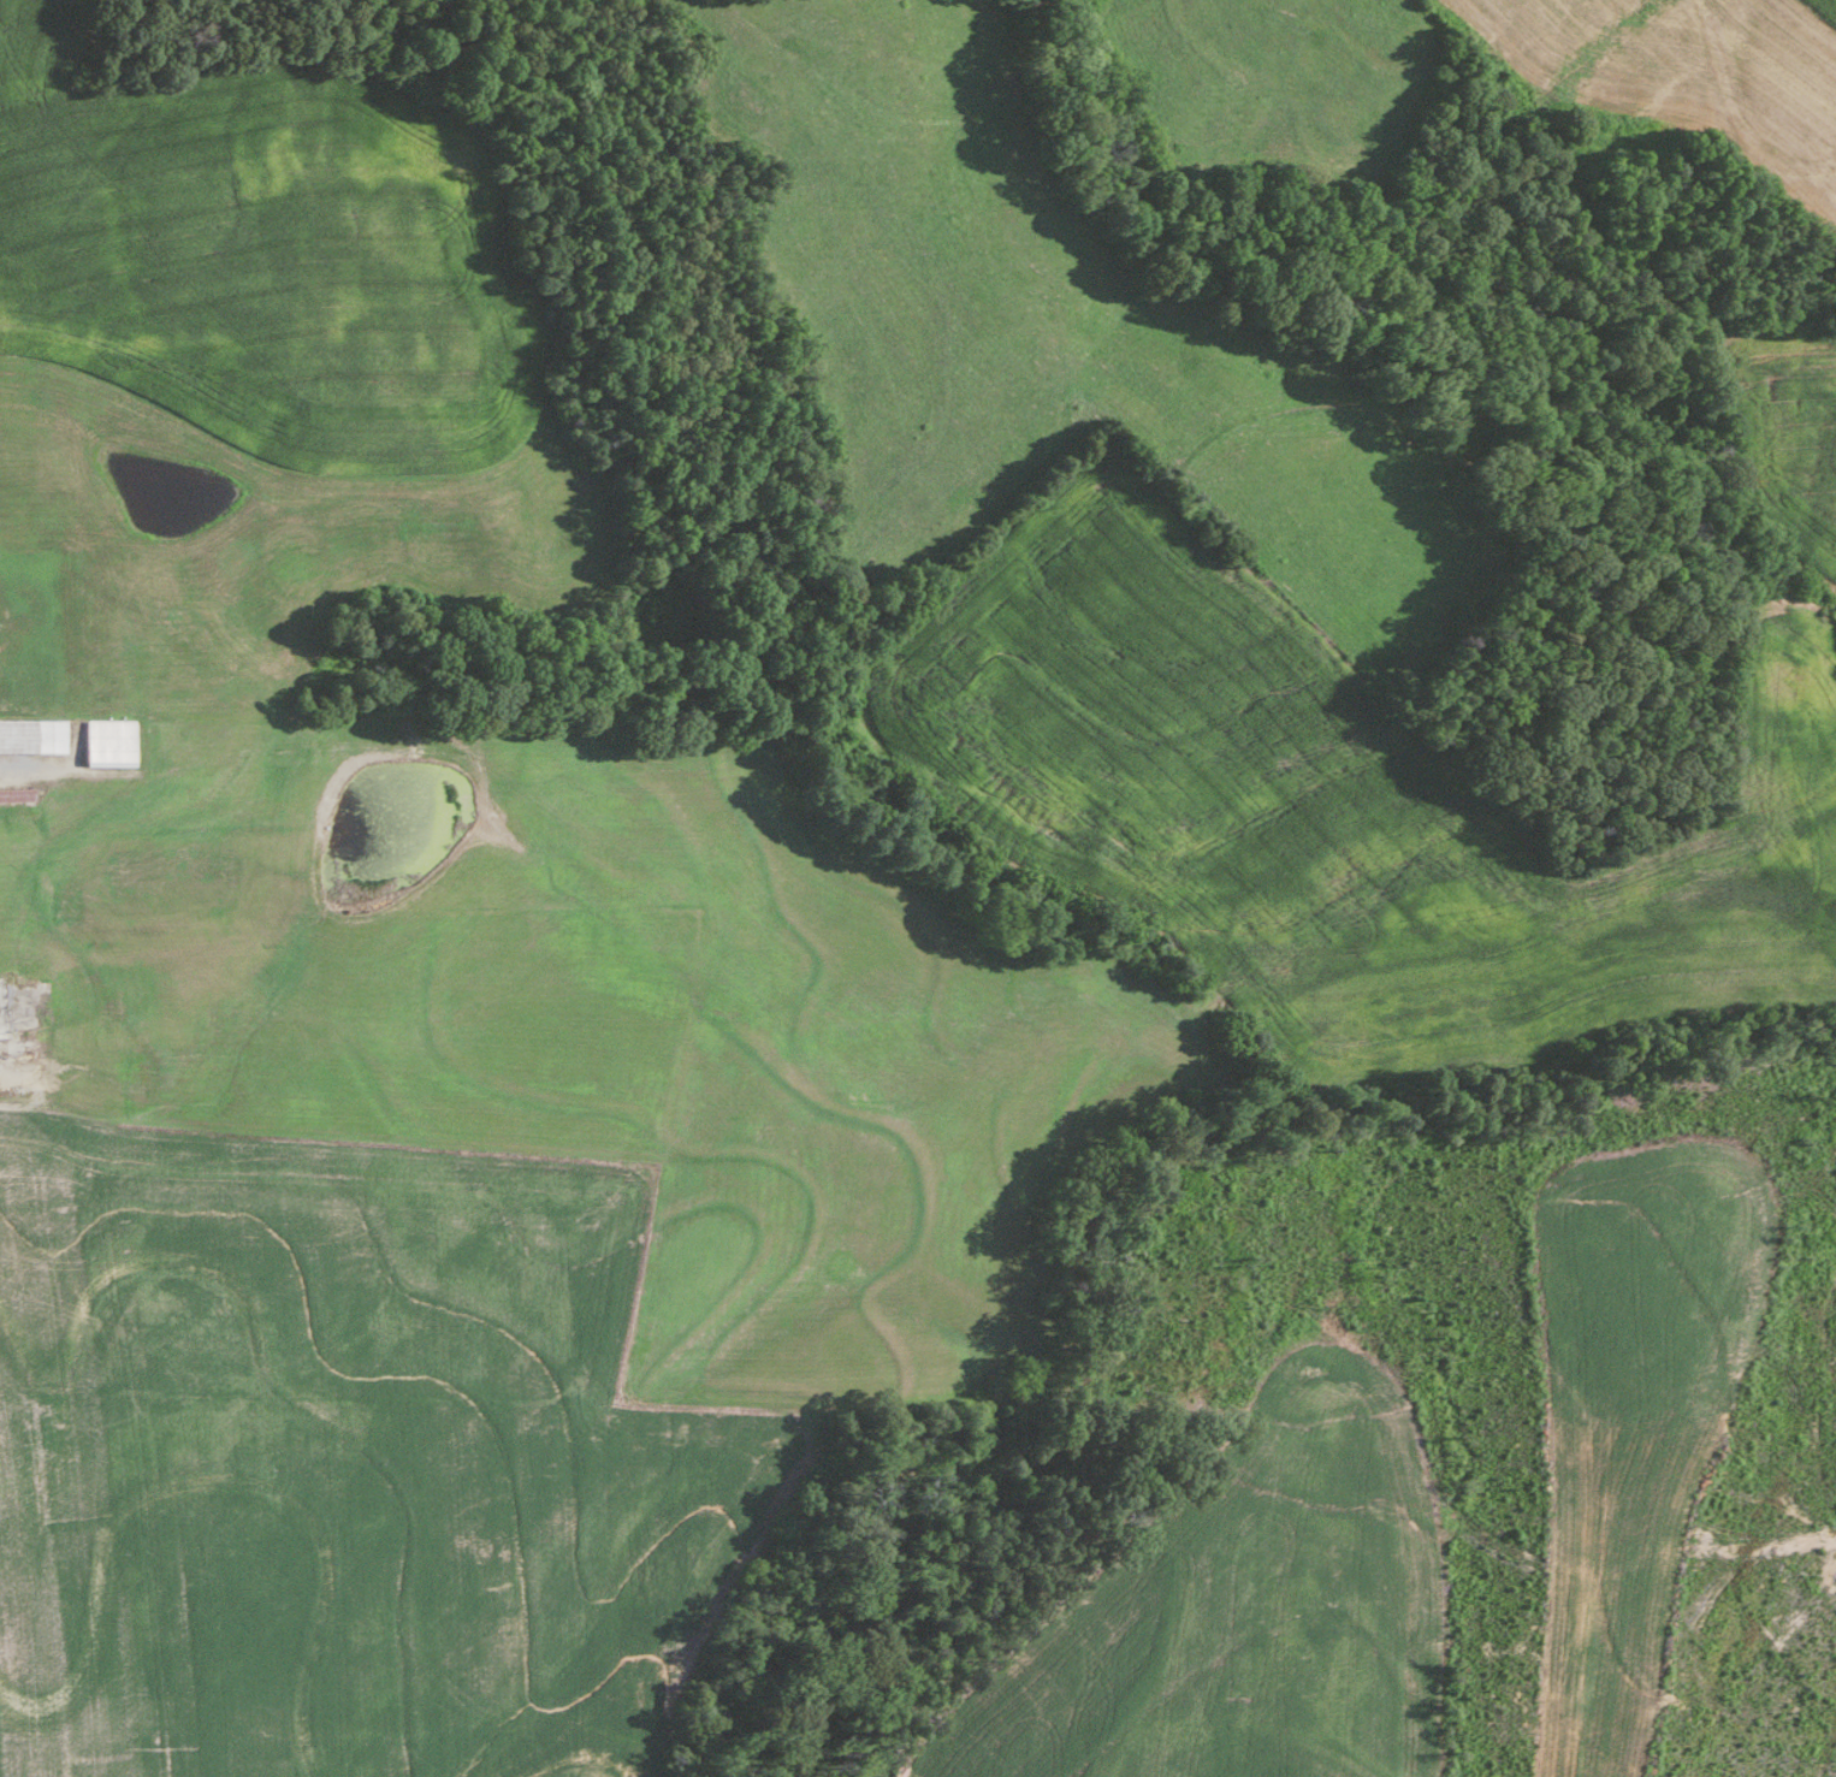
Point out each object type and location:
building: (29, 735)
building: (105, 741)
road: (57, 769)

